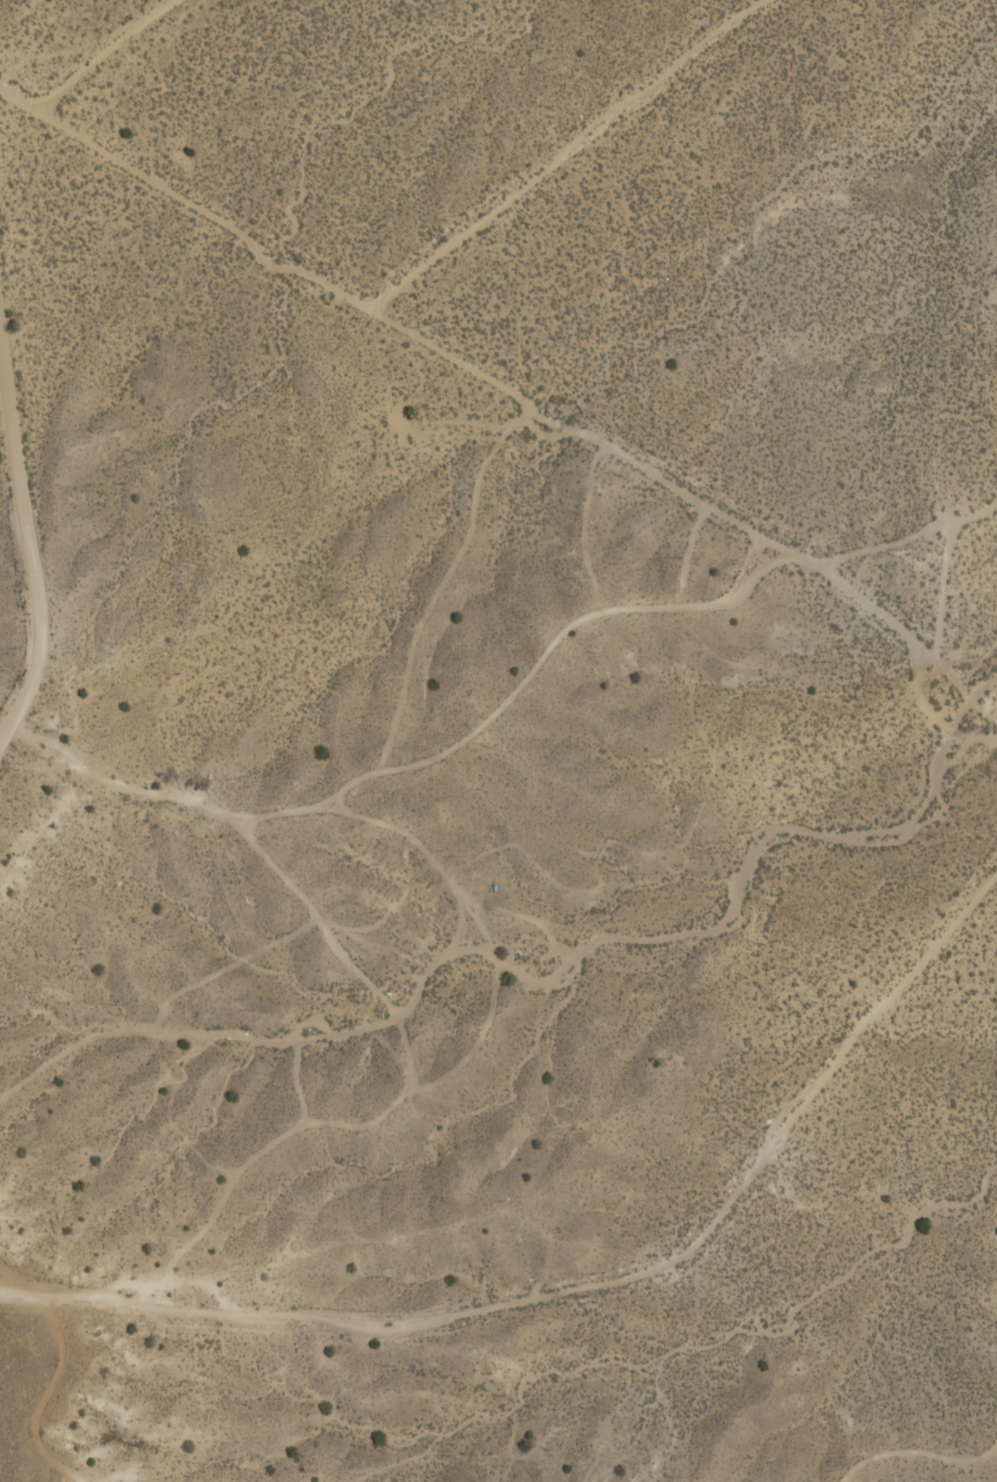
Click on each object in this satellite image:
road: (101, 52)
road: (566, 152)
road: (505, 388)
road: (28, 552)
road: (65, 757)
road: (588, 1285)

